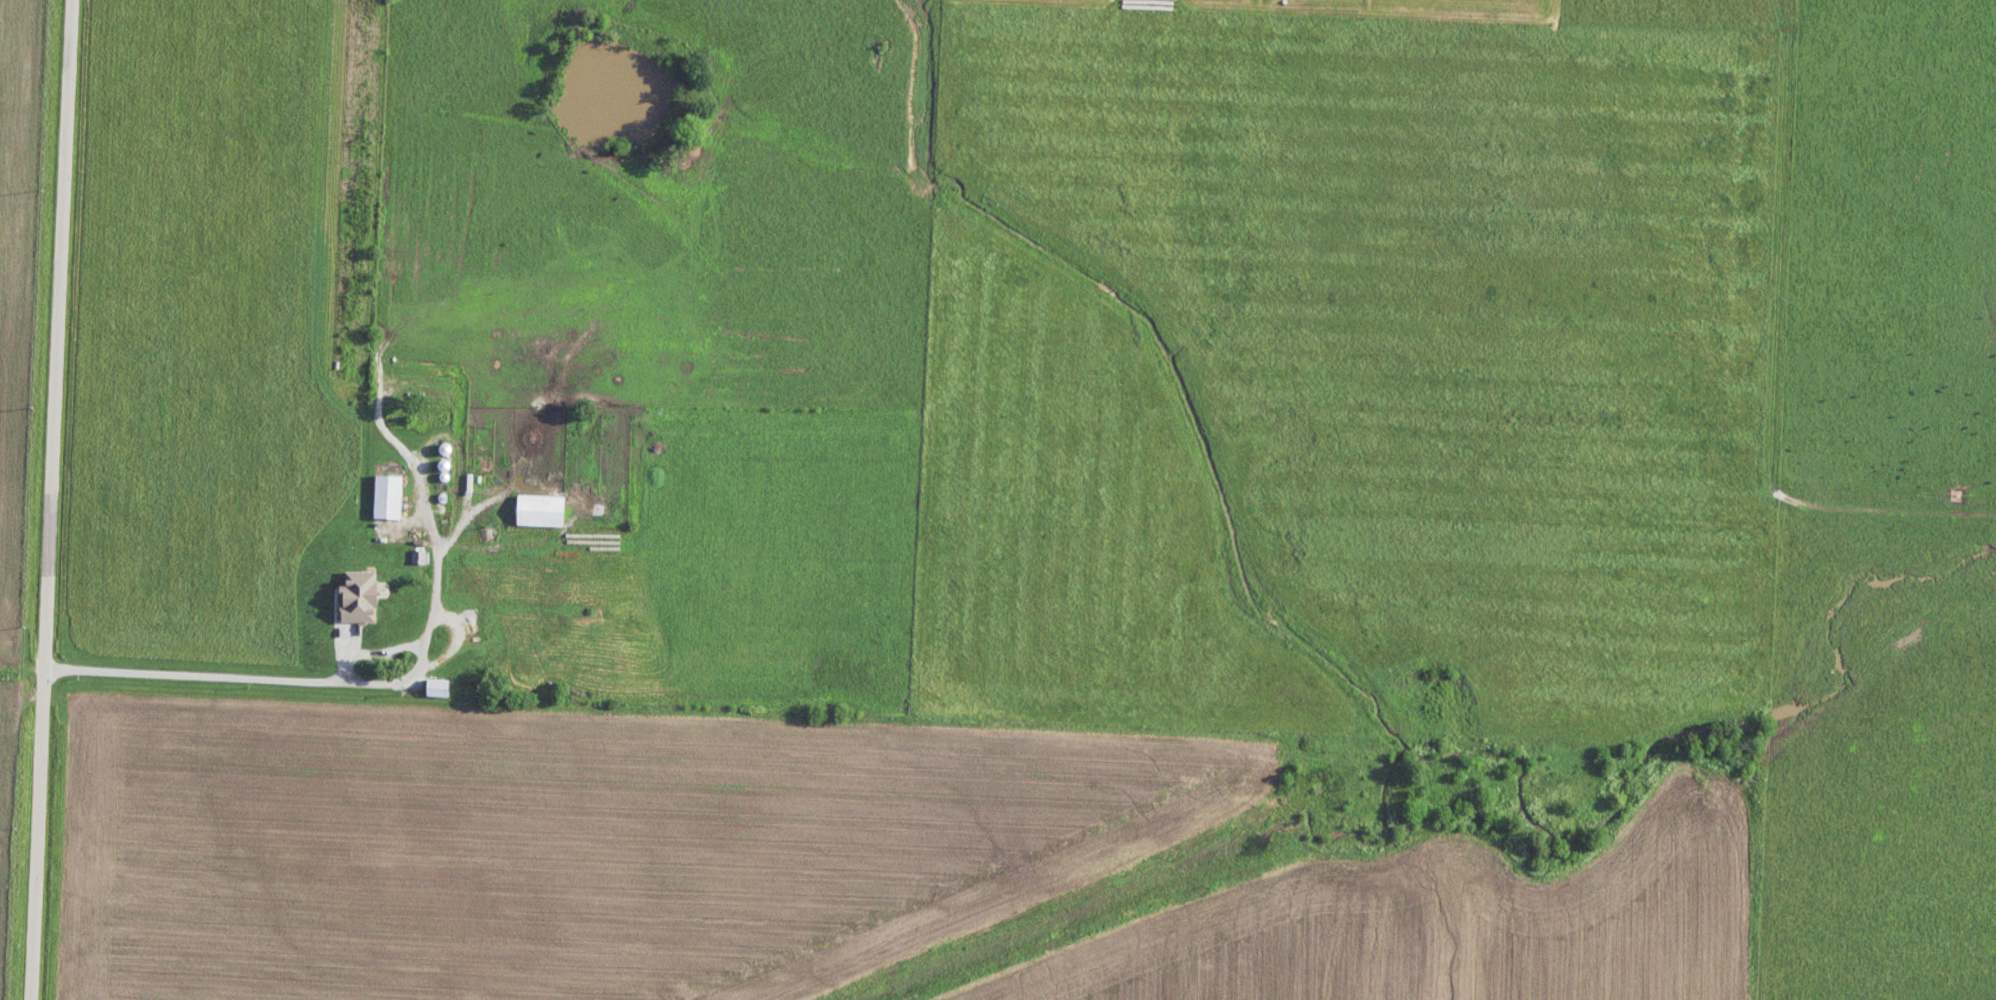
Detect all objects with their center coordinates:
building: (385, 496)
road: (52, 500)
building: (538, 510)
building: (479, 590)
building: (535, 627)
building: (373, 638)
road: (306, 682)
building: (436, 687)

